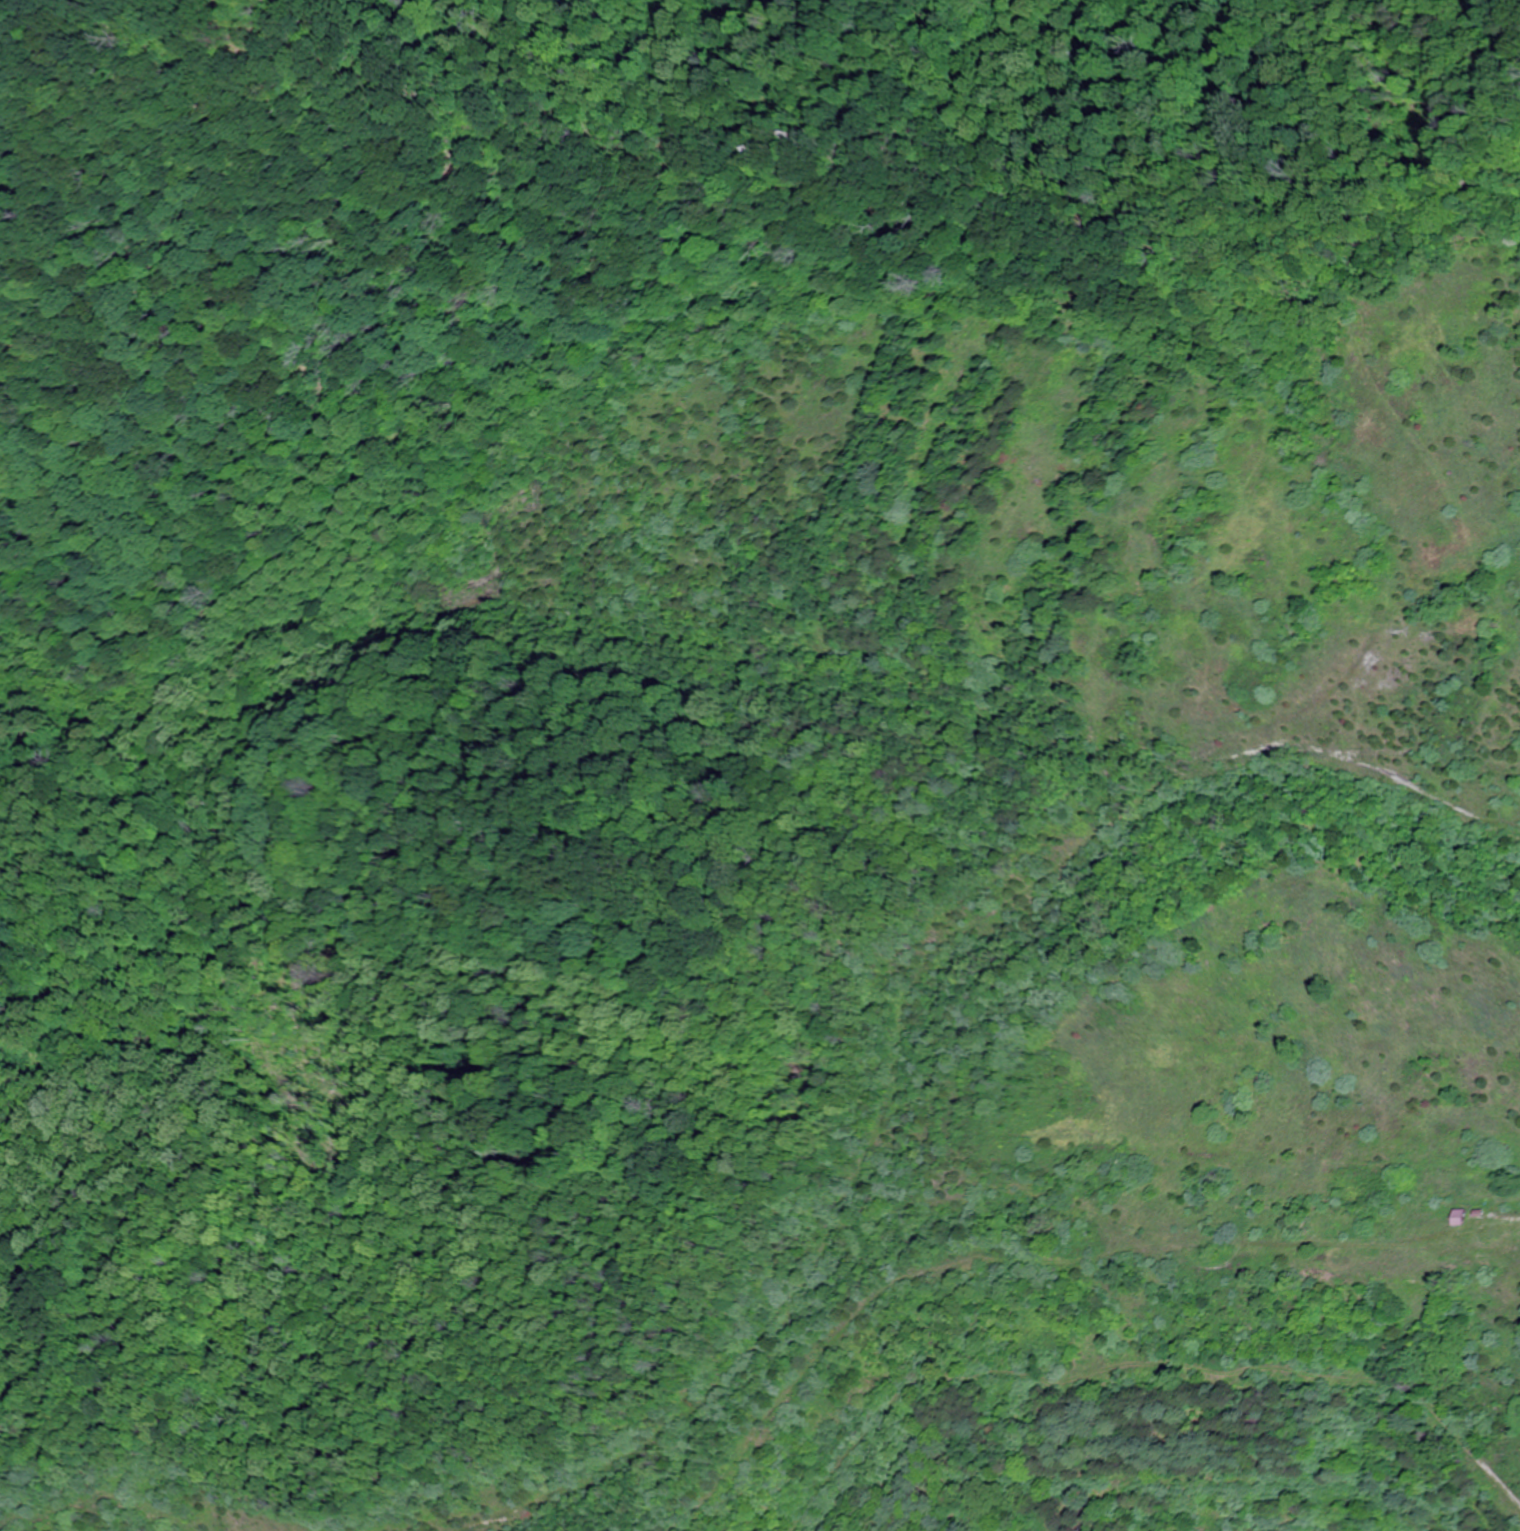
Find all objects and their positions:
building: (1447, 1218)

